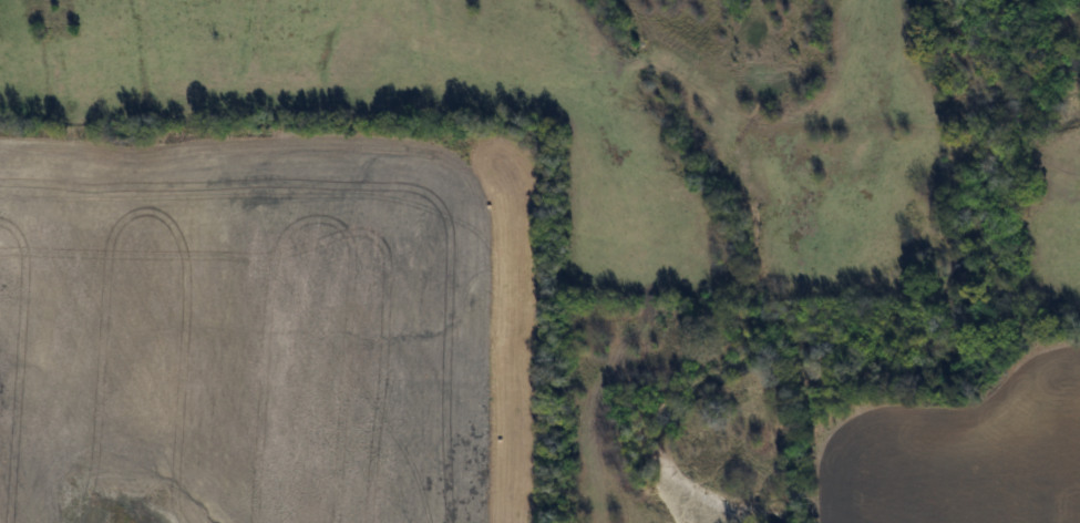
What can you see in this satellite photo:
river: (895, 359)

